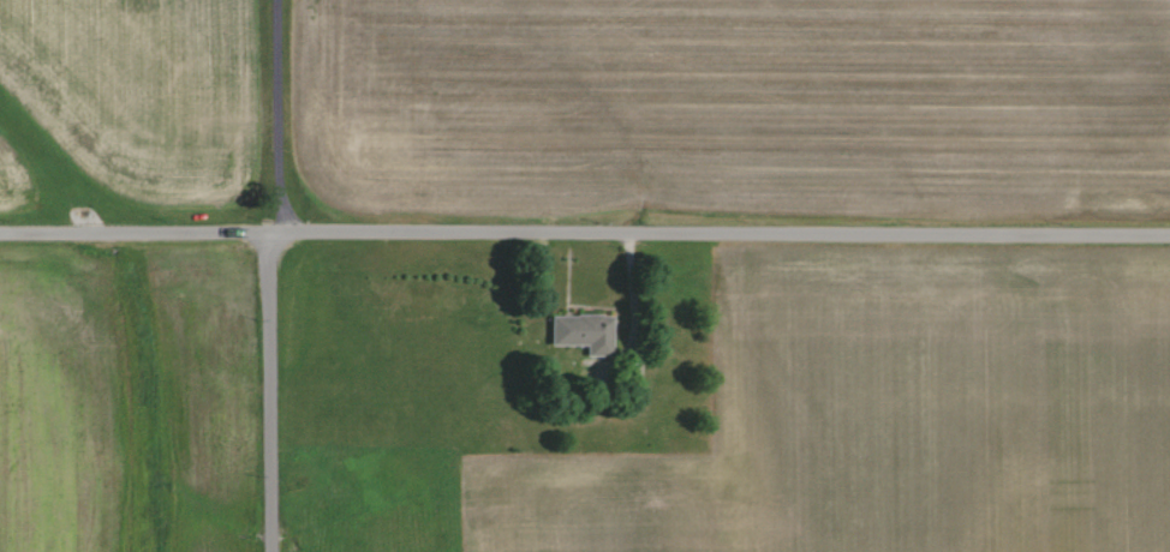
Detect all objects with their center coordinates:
road: (276, 118)
road: (584, 230)
building: (579, 332)
road: (265, 394)

